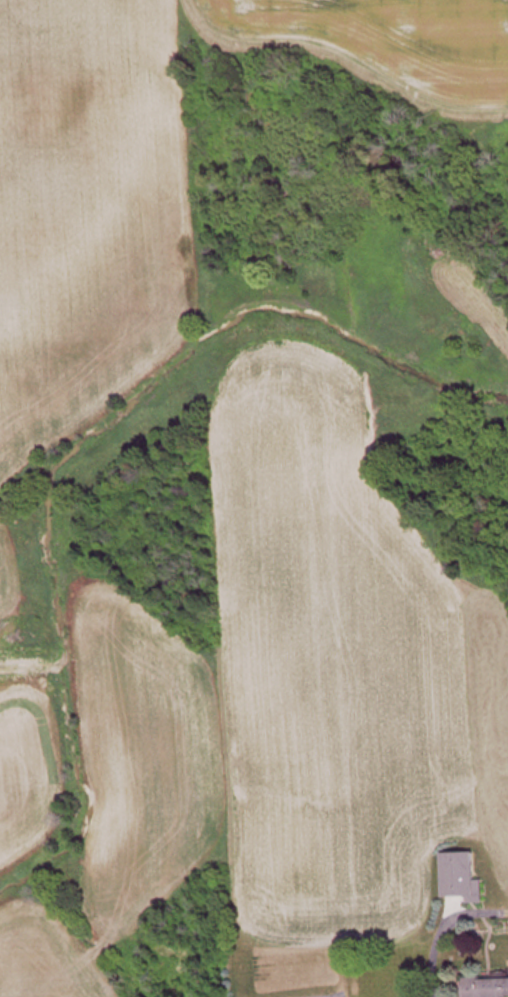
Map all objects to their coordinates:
building: (464, 879)
building: (486, 988)

